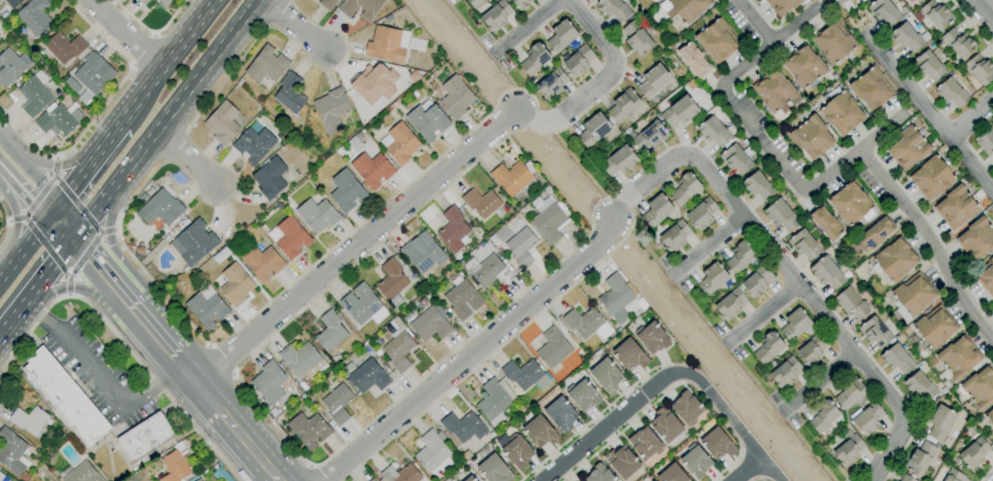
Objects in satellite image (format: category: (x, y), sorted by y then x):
building: (840, 1)
building: (914, 1)
building: (917, 1)
building: (143, 2)
building: (521, 2)
building: (13, 3)
building: (163, 3)
building: (474, 3)
building: (328, 4)
building: (782, 5)
building: (360, 8)
building: (684, 8)
building: (613, 9)
building: (883, 11)
road: (983, 11)
building: (936, 14)
building: (496, 15)
building: (35, 16)
road: (751, 21)
road: (291, 23)
road: (972, 25)
road: (529, 29)
road: (151, 31)
road: (126, 32)
road: (154, 35)
building: (561, 36)
building: (907, 37)
building: (637, 38)
building: (717, 40)
building: (833, 41)
road: (181, 42)
building: (958, 42)
building: (392, 44)
building: (64, 47)
road: (142, 49)
road: (468, 57)
building: (534, 59)
building: (578, 60)
building: (693, 60)
road: (131, 64)
building: (266, 65)
building: (928, 65)
building: (11, 66)
building: (803, 66)
building: (980, 69)
building: (93, 76)
building: (653, 82)
building: (374, 83)
building: (551, 84)
road: (603, 86)
building: (871, 89)
building: (775, 91)
building: (952, 92)
building: (290, 93)
building: (35, 94)
road: (182, 94)
building: (456, 97)
road: (136, 103)
building: (623, 105)
road: (925, 107)
road: (101, 108)
building: (331, 110)
building: (679, 111)
building: (842, 113)
road: (970, 117)
building: (59, 120)
building: (427, 120)
building: (222, 123)
building: (593, 129)
building: (714, 129)
road: (114, 131)
building: (649, 136)
building: (811, 137)
building: (985, 140)
road: (767, 141)
building: (400, 143)
building: (254, 145)
building: (908, 148)
road: (9, 149)
road: (185, 157)
road: (56, 158)
building: (736, 159)
building: (619, 161)
road: (64, 164)
road: (54, 169)
building: (372, 169)
road: (463, 171)
road: (1, 172)
road: (81, 173)
building: (931, 177)
building: (270, 178)
building: (511, 178)
road: (37, 181)
building: (758, 186)
building: (684, 188)
building: (346, 191)
road: (24, 196)
road: (38, 198)
building: (483, 203)
building: (850, 203)
traffic signals: (57, 204)
road: (77, 205)
building: (956, 207)
building: (160, 208)
building: (657, 210)
road: (51, 211)
building: (701, 213)
road: (90, 214)
building: (317, 215)
building: (781, 215)
road: (16, 218)
traffic signals: (45, 219)
building: (548, 219)
road: (9, 220)
road: (64, 221)
road: (7, 223)
building: (826, 223)
road: (15, 225)
road: (58, 229)
road: (115, 229)
building: (454, 230)
road: (106, 232)
building: (875, 233)
building: (675, 236)
building: (290, 238)
power tower: (643, 238)
traffic signals: (72, 239)
building: (976, 239)
building: (195, 242)
road: (931, 244)
building: (804, 245)
road: (45, 246)
building: (521, 247)
road: (23, 248)
road: (354, 249)
road: (707, 250)
road: (113, 252)
building: (139, 252)
building: (422, 252)
road: (84, 255)
building: (740, 257)
building: (894, 260)
building: (262, 262)
road: (49, 267)
road: (780, 270)
building: (486, 271)
building: (827, 273)
road: (103, 275)
building: (986, 276)
road: (0, 277)
building: (712, 279)
building: (757, 281)
building: (392, 282)
road: (68, 284)
building: (235, 285)
road: (83, 291)
road: (67, 295)
building: (912, 296)
building: (615, 298)
building: (463, 299)
building: (851, 303)
building: (730, 304)
building: (992, 304)
building: (363, 305)
building: (207, 307)
road: (13, 314)
road: (763, 318)
building: (430, 323)
building: (586, 323)
building: (795, 324)
building: (934, 327)
building: (330, 331)
building: (875, 332)
road: (113, 333)
building: (651, 337)
road: (159, 341)
road: (208, 346)
building: (398, 346)
building: (768, 347)
building: (553, 348)
building: (812, 349)
building: (630, 355)
road: (468, 356)
building: (957, 358)
building: (897, 359)
building: (302, 360)
road: (219, 361)
building: (785, 372)
building: (524, 374)
road: (232, 375)
building: (606, 375)
road: (666, 375)
building: (365, 376)
road: (101, 378)
road: (196, 383)
building: (272, 383)
road: (817, 385)
building: (920, 386)
building: (980, 388)
building: (850, 393)
building: (583, 395)
building: (65, 396)
building: (495, 400)
building: (338, 403)
building: (686, 408)
building: (561, 414)
building: (823, 415)
building: (990, 416)
building: (868, 418)
building: (28, 420)
building: (940, 423)
building: (665, 424)
building: (463, 426)
building: (309, 429)
building: (539, 432)
building: (146, 437)
road: (243, 439)
building: (645, 443)
building: (718, 444)
building: (848, 448)
building: (515, 449)
building: (12, 452)
building: (432, 453)
building: (974, 454)
building: (920, 458)
building: (696, 461)
building: (622, 462)
building: (175, 464)
building: (494, 469)
road: (745, 469)
building: (81, 473)
road: (987, 473)
building: (401, 474)
building: (599, 474)
building: (672, 474)
building: (1, 476)
building: (953, 476)
building: (906, 478)
building: (470, 479)
road: (760, 479)
building: (198, 480)
building: (371, 480)
building: (579, 480)
building: (891, 480)

